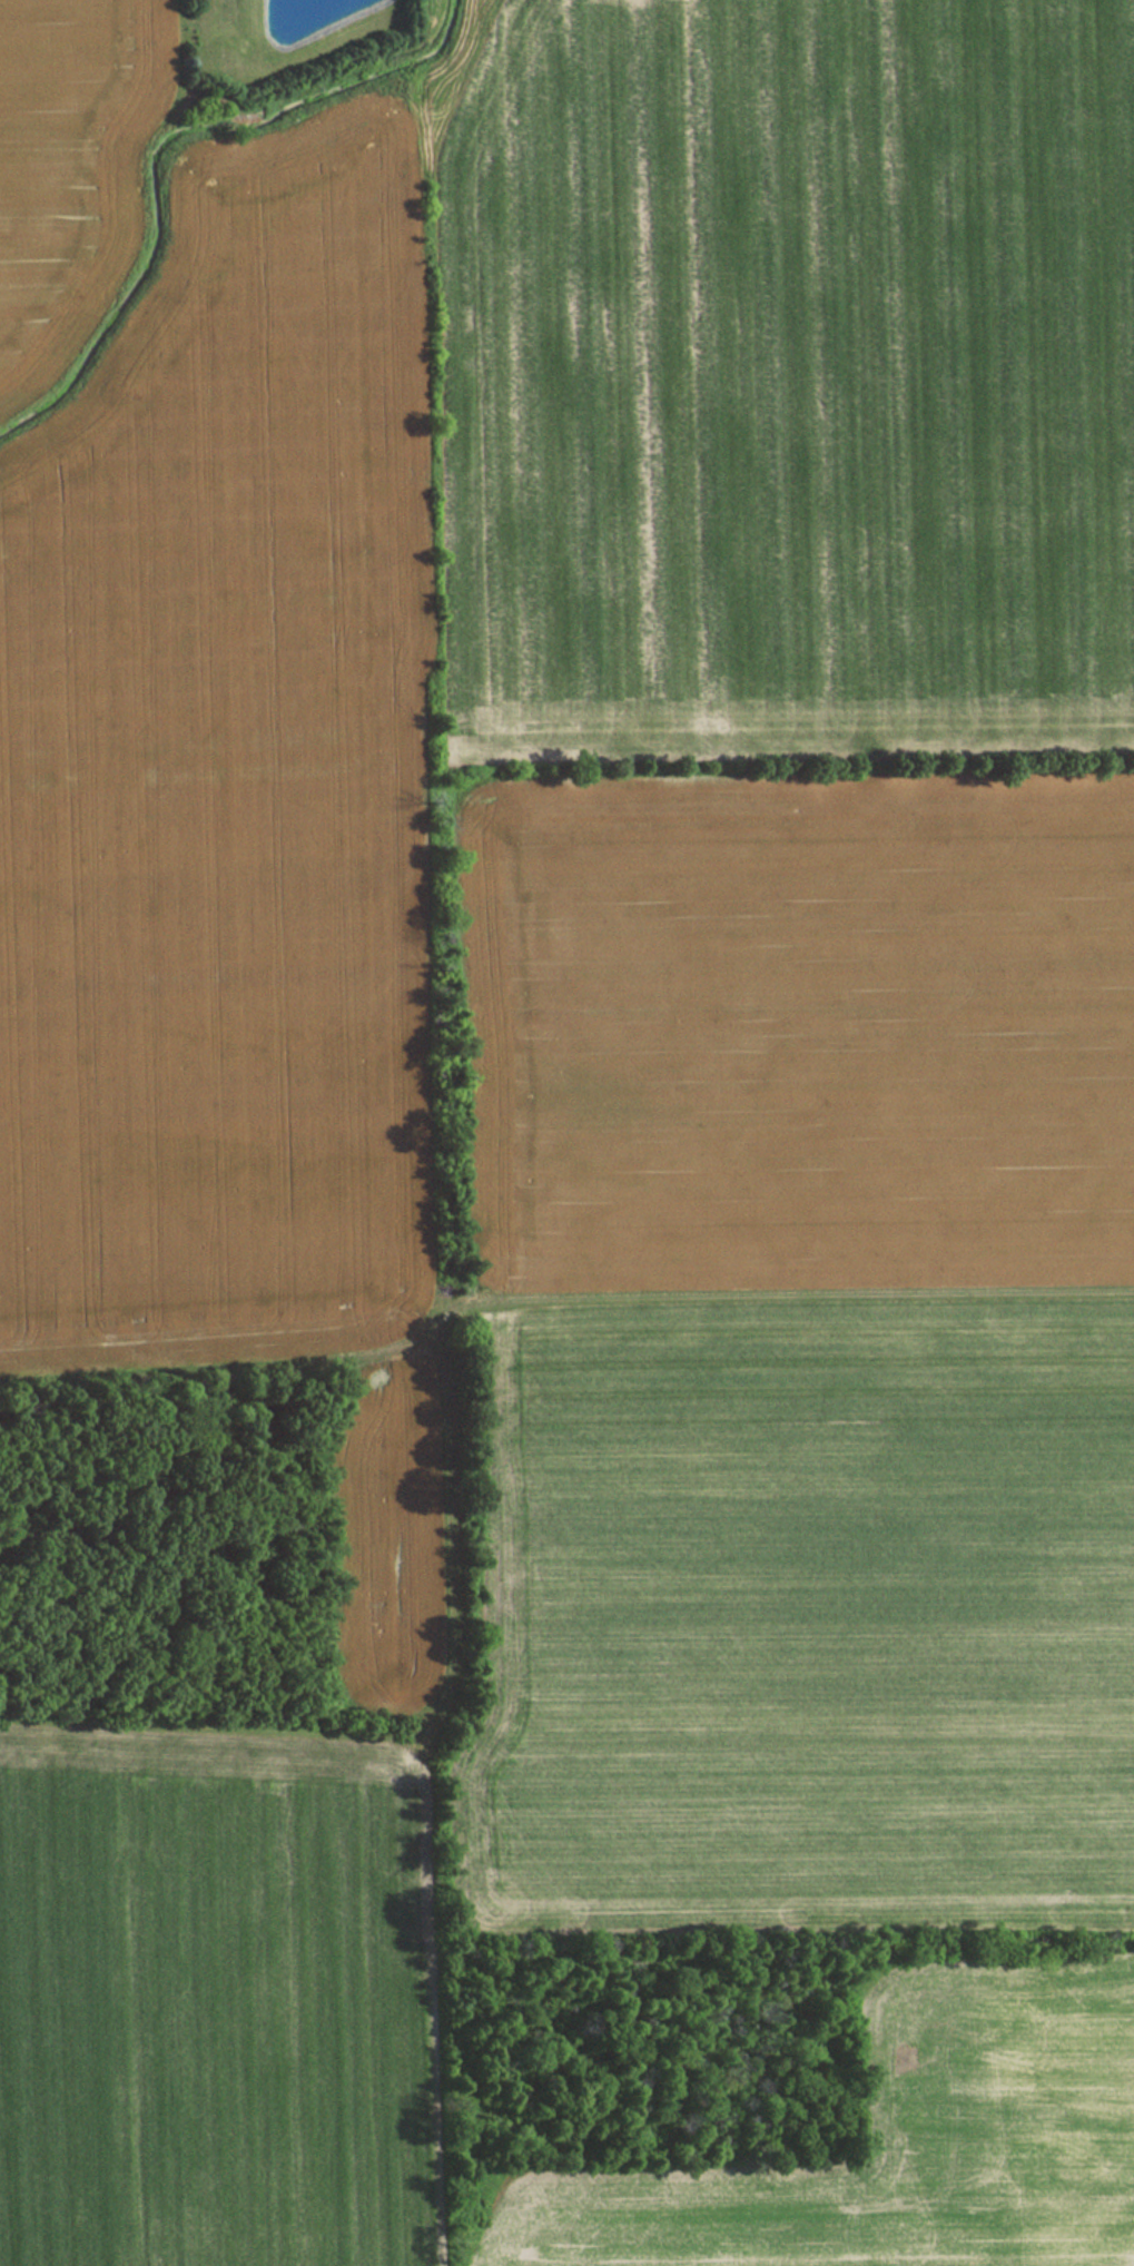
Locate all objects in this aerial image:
crop: (70, 152)
crop: (786, 382)
crop: (225, 860)
crop: (802, 1348)
crop: (205, 2004)
crop: (898, 2142)

